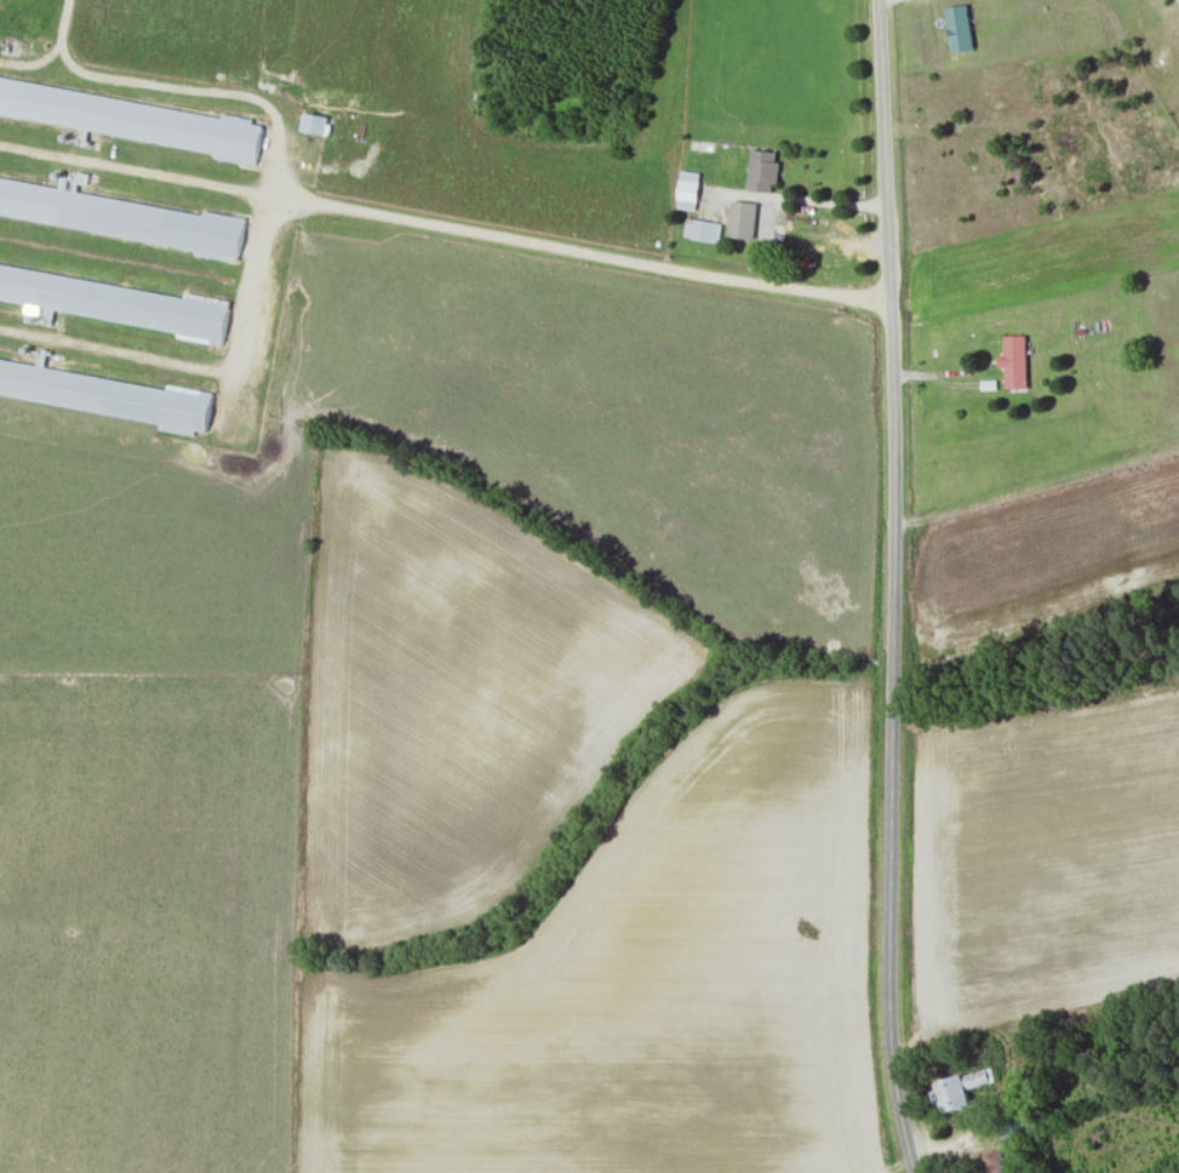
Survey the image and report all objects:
building: (960, 27)
building: (135, 118)
building: (314, 122)
building: (763, 170)
building: (688, 189)
building: (743, 218)
building: (703, 229)
building: (201, 233)
building: (120, 302)
building: (1014, 361)
building: (58, 388)
road: (892, 588)
building: (963, 1089)
building: (1017, 1127)
building: (992, 1163)

